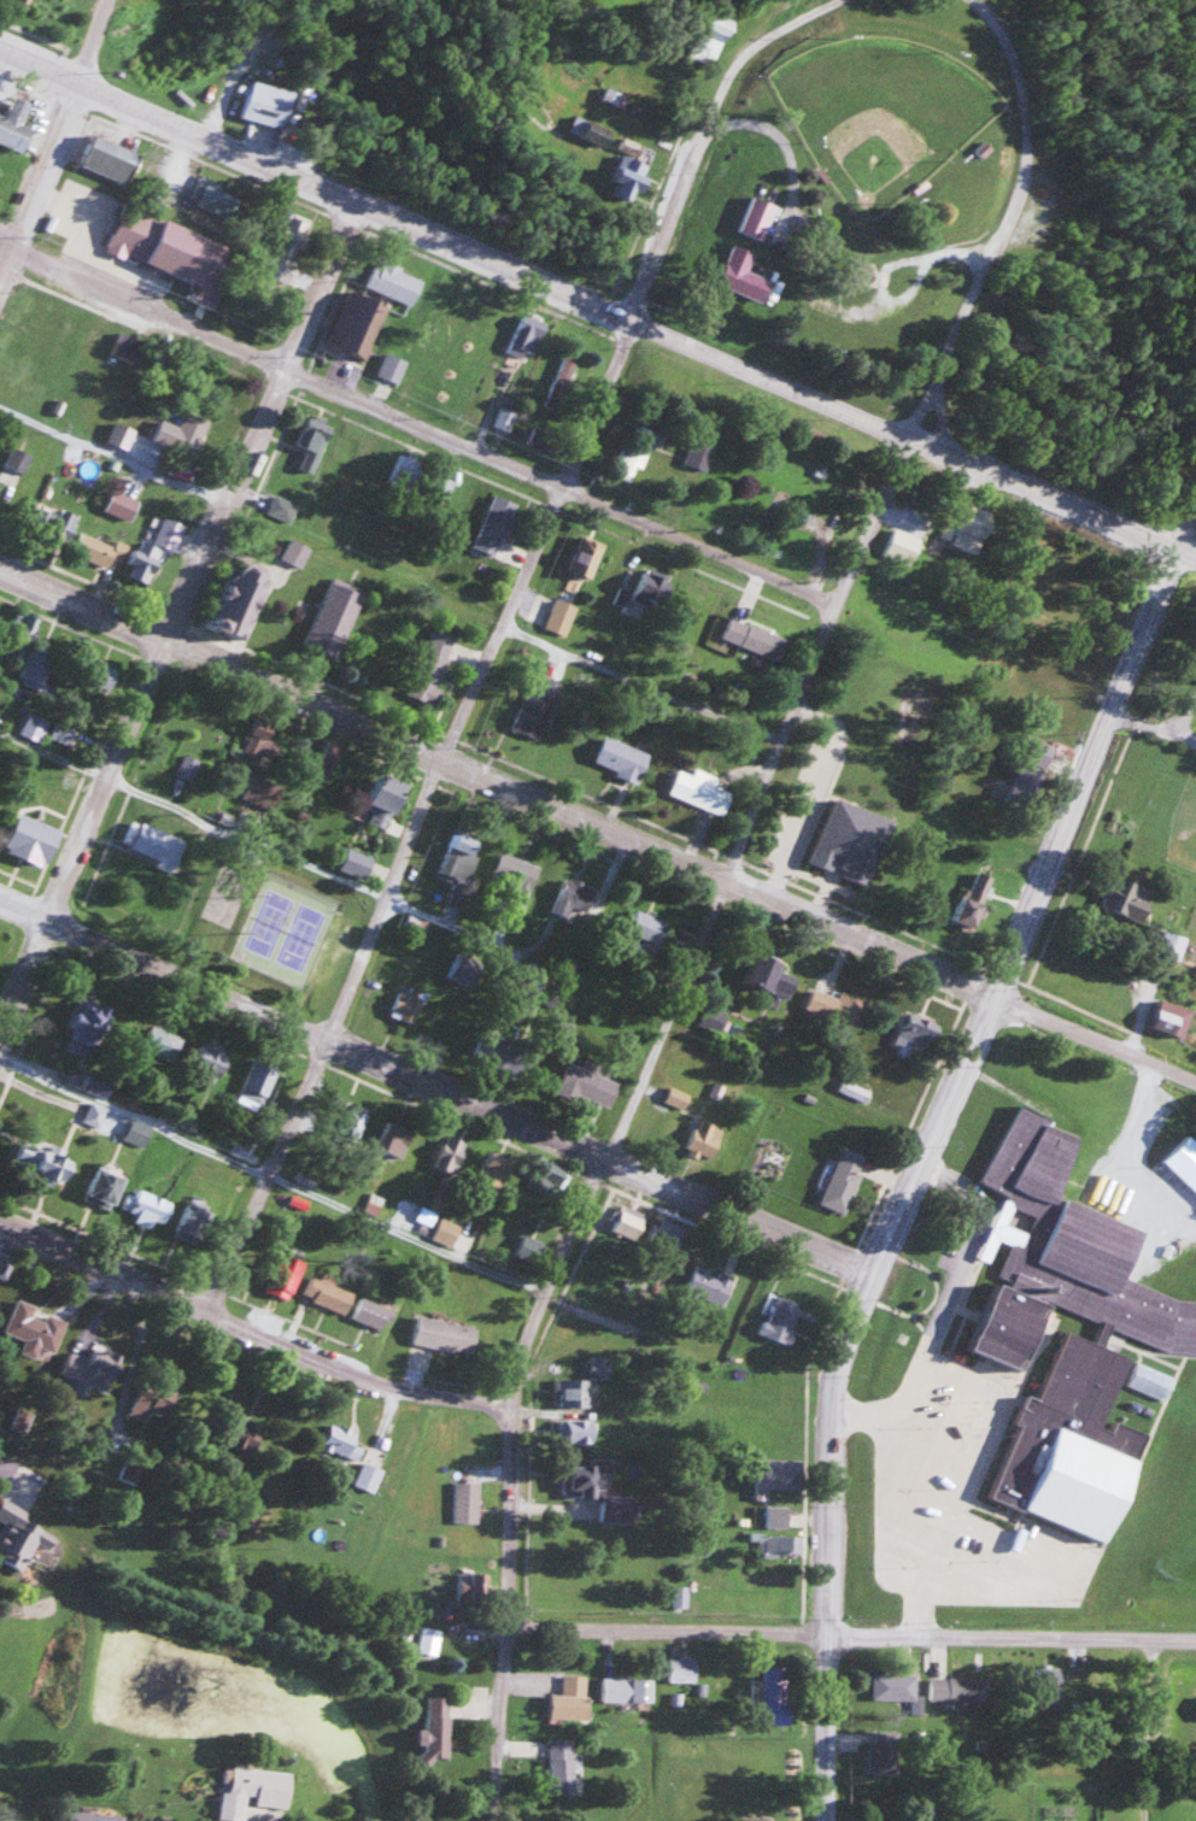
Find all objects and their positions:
building: (24, 2)
road: (782, 18)
building: (714, 35)
road: (89, 40)
road: (1010, 58)
building: (264, 104)
park: (880, 112)
building: (14, 124)
building: (590, 130)
building: (110, 157)
park: (883, 169)
building: (627, 174)
road: (39, 177)
road: (680, 181)
building: (166, 246)
building: (743, 274)
building: (397, 282)
road: (973, 283)
road: (596, 306)
building: (351, 319)
building: (524, 336)
building: (392, 366)
building: (562, 383)
building: (503, 417)
road: (416, 423)
building: (182, 431)
building: (312, 436)
building: (698, 453)
building: (632, 454)
building: (405, 471)
building: (281, 507)
building: (64, 524)
building: (496, 524)
road: (1185, 528)
building: (968, 529)
building: (901, 544)
building: (93, 548)
building: (154, 550)
building: (295, 551)
building: (585, 554)
road: (388, 564)
building: (652, 586)
building: (235, 598)
road: (176, 615)
building: (559, 616)
building: (333, 617)
building: (754, 638)
building: (430, 660)
building: (37, 664)
building: (535, 704)
building: (33, 727)
building: (256, 740)
building: (621, 758)
building: (327, 759)
building: (262, 792)
building: (699, 792)
building: (387, 793)
road: (192, 815)
road: (416, 816)
road: (597, 827)
building: (31, 839)
building: (848, 840)
building: (154, 844)
building: (459, 850)
building: (357, 863)
building: (514, 873)
building: (972, 898)
building: (570, 900)
building: (1132, 900)
park: (222, 901)
road: (705, 918)
park: (263, 929)
building: (644, 930)
park: (266, 932)
park: (298, 944)
building: (1169, 945)
building: (772, 975)
building: (405, 1003)
building: (836, 1004)
building: (1167, 1016)
building: (82, 1027)
building: (916, 1030)
building: (450, 1039)
building: (159, 1042)
building: (496, 1052)
building: (203, 1061)
building: (256, 1080)
road: (951, 1080)
building: (587, 1081)
road: (434, 1083)
building: (676, 1097)
building: (93, 1115)
building: (136, 1132)
building: (392, 1136)
building: (703, 1138)
building: (448, 1153)
building: (1183, 1161)
building: (52, 1164)
building: (492, 1170)
road: (270, 1174)
building: (843, 1179)
building: (102, 1186)
building: (145, 1203)
building: (184, 1227)
building: (667, 1230)
building: (445, 1232)
building: (1063, 1256)
building: (285, 1275)
building: (709, 1283)
building: (326, 1294)
building: (369, 1312)
building: (779, 1317)
building: (33, 1329)
road: (246, 1329)
building: (444, 1334)
building: (90, 1367)
building: (571, 1392)
building: (153, 1402)
building: (576, 1431)
building: (240, 1435)
building: (340, 1440)
building: (1077, 1440)
road: (5, 1470)
building: (600, 1491)
building: (464, 1502)
building: (20, 1535)
building: (786, 1544)
road: (344, 1558)
building: (679, 1596)
road: (505, 1609)
road: (850, 1635)
building: (427, 1640)
building: (681, 1668)
building: (895, 1687)
building: (956, 1688)
building: (626, 1690)
building: (570, 1698)
building: (776, 1705)
building: (1195, 1708)
road: (822, 1726)
building: (881, 1755)
building: (562, 1767)
building: (250, 1791)
building: (94, 1816)
building: (760, 1819)
building: (897, 1819)

